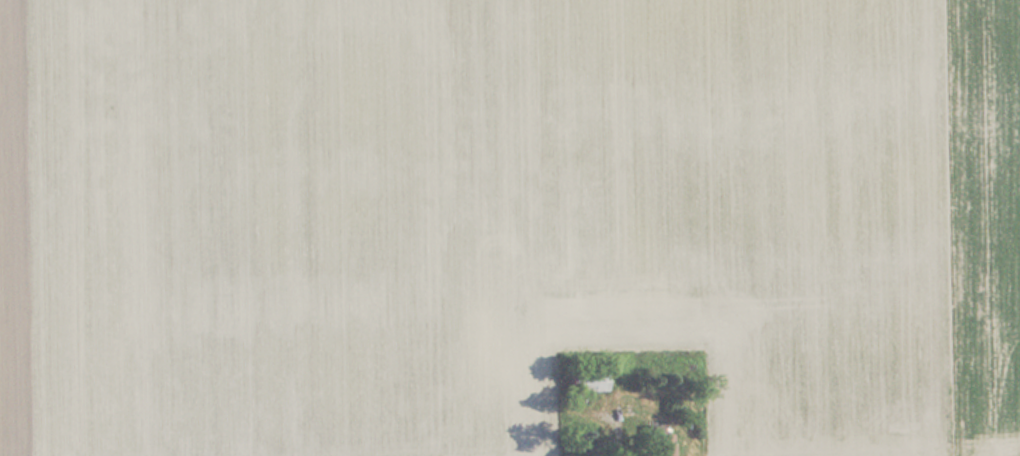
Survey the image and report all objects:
building: (586, 381)
building: (657, 444)

